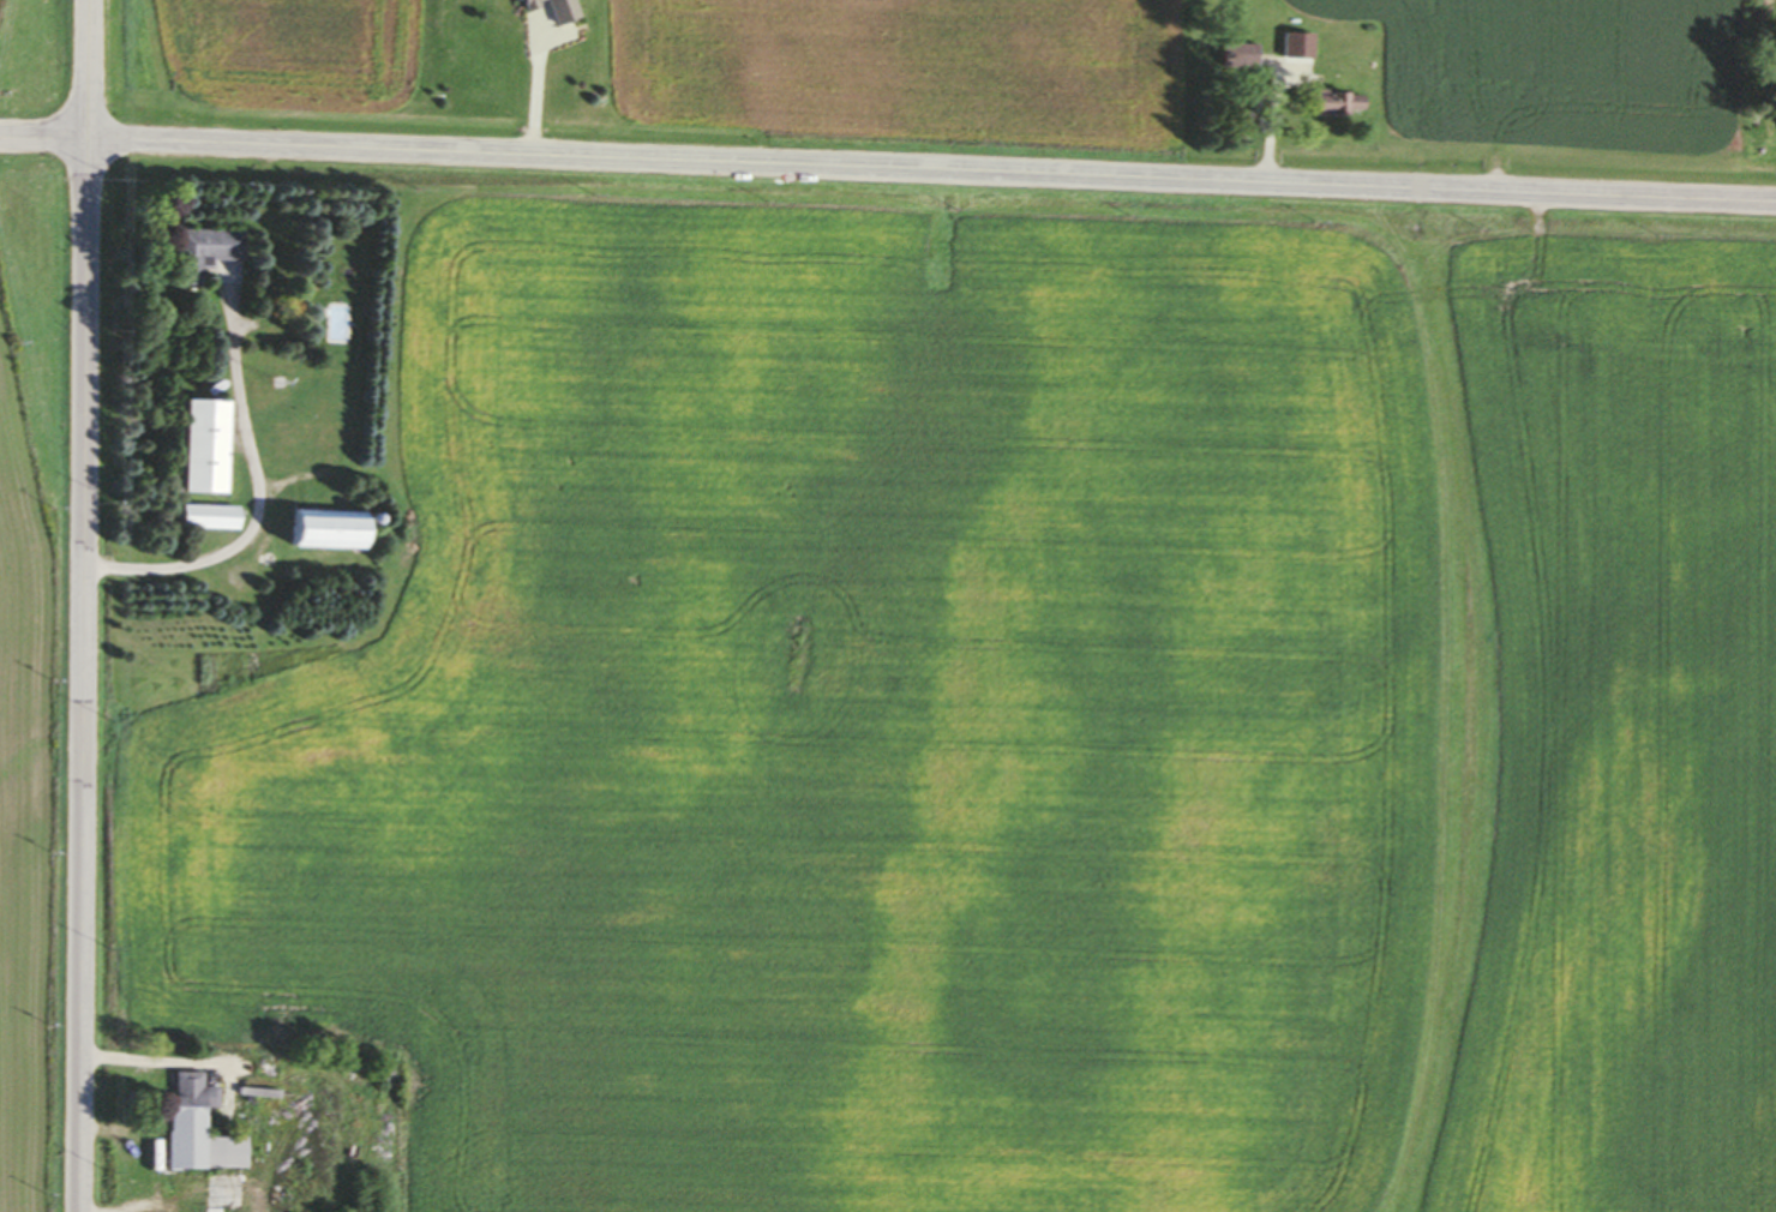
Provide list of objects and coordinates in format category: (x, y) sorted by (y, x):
building: (546, 8)
building: (1285, 47)
building: (1230, 56)
road: (535, 85)
building: (1325, 103)
road: (888, 167)
building: (202, 251)
building: (198, 446)
road: (259, 499)
building: (204, 517)
building: (314, 530)
road: (84, 605)
building: (192, 1128)

